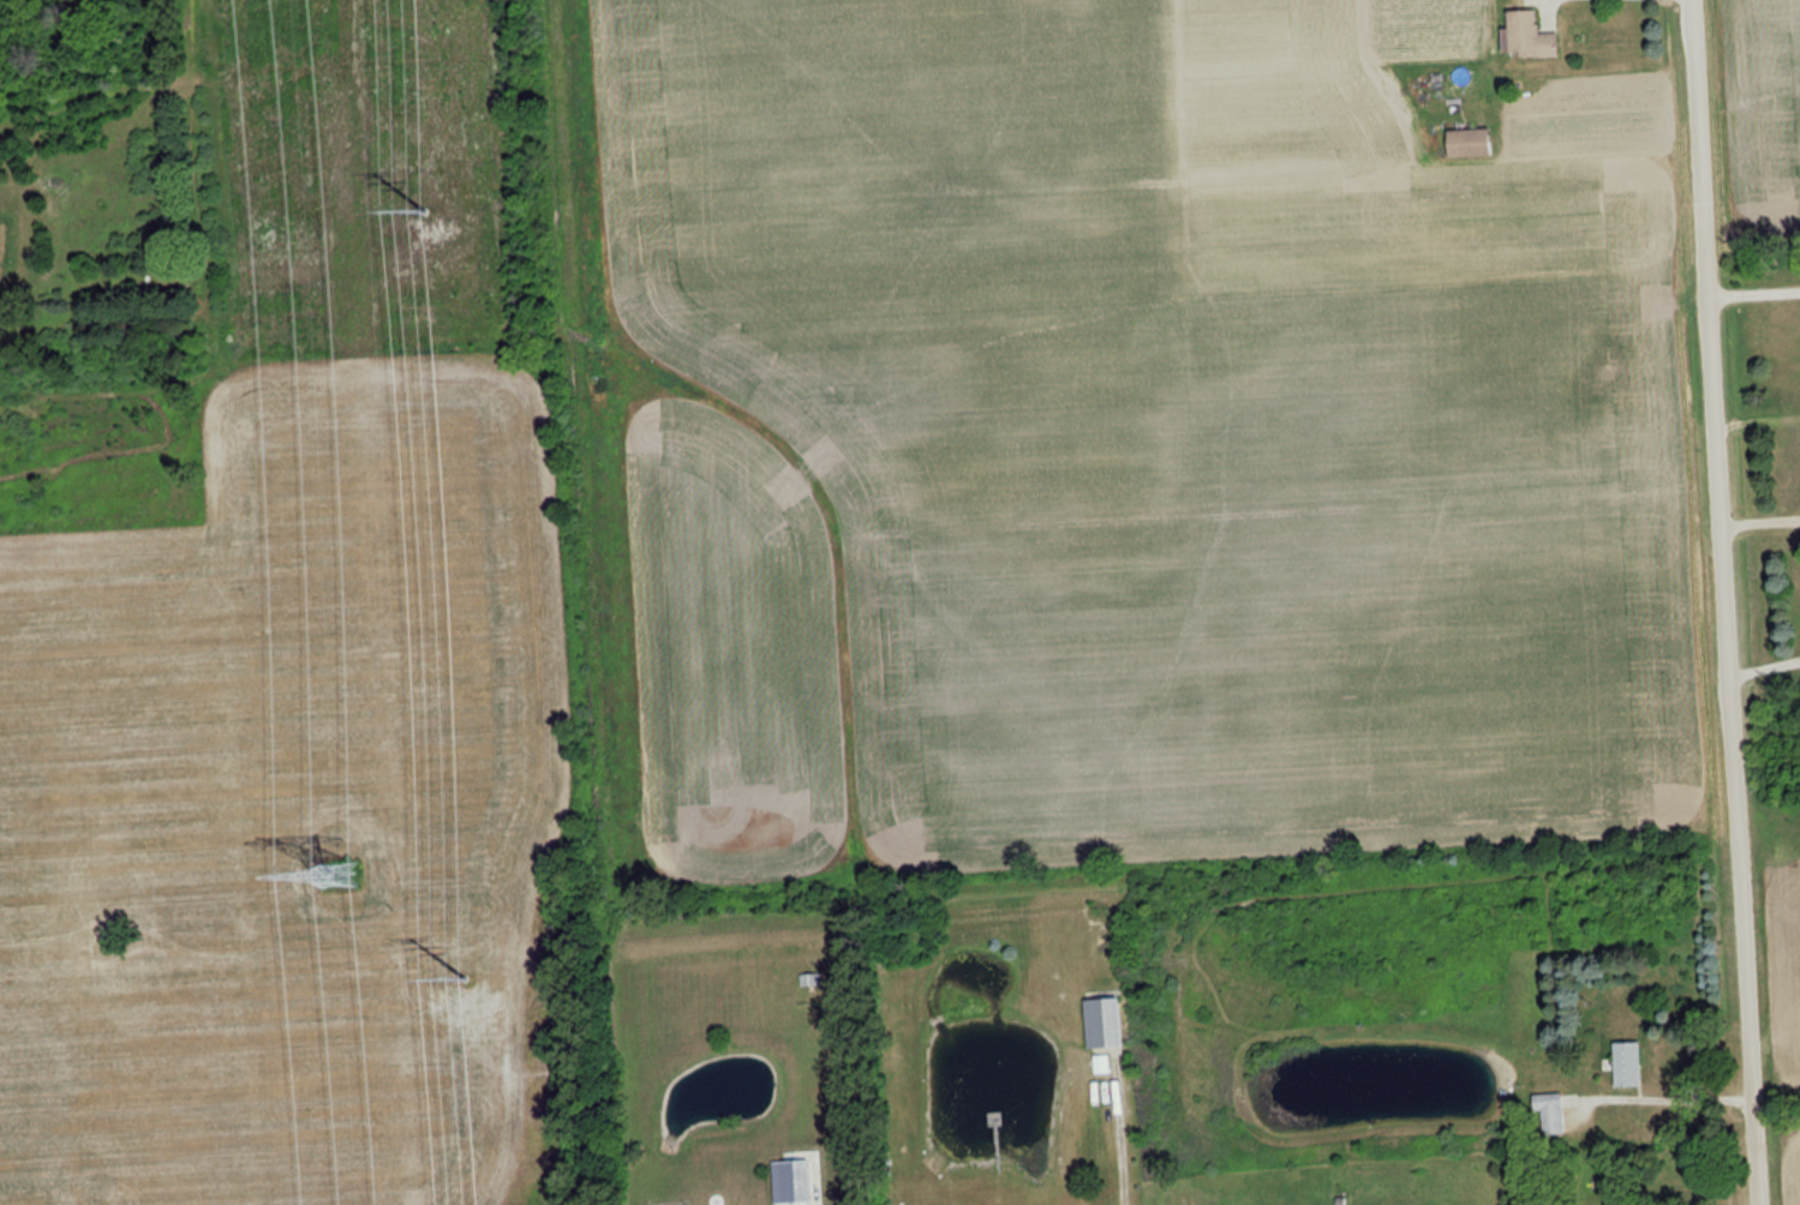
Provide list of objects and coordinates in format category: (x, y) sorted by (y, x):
building: (1524, 35)
building: (1466, 140)
power tower: (427, 196)
road: (1750, 280)
road: (1756, 516)
road: (1718, 601)
road: (1762, 666)
power tower: (334, 881)
power tower: (482, 978)
building: (1101, 1021)
building: (1625, 1063)
road: (1670, 1095)
building: (1549, 1113)
road: (1120, 1141)

